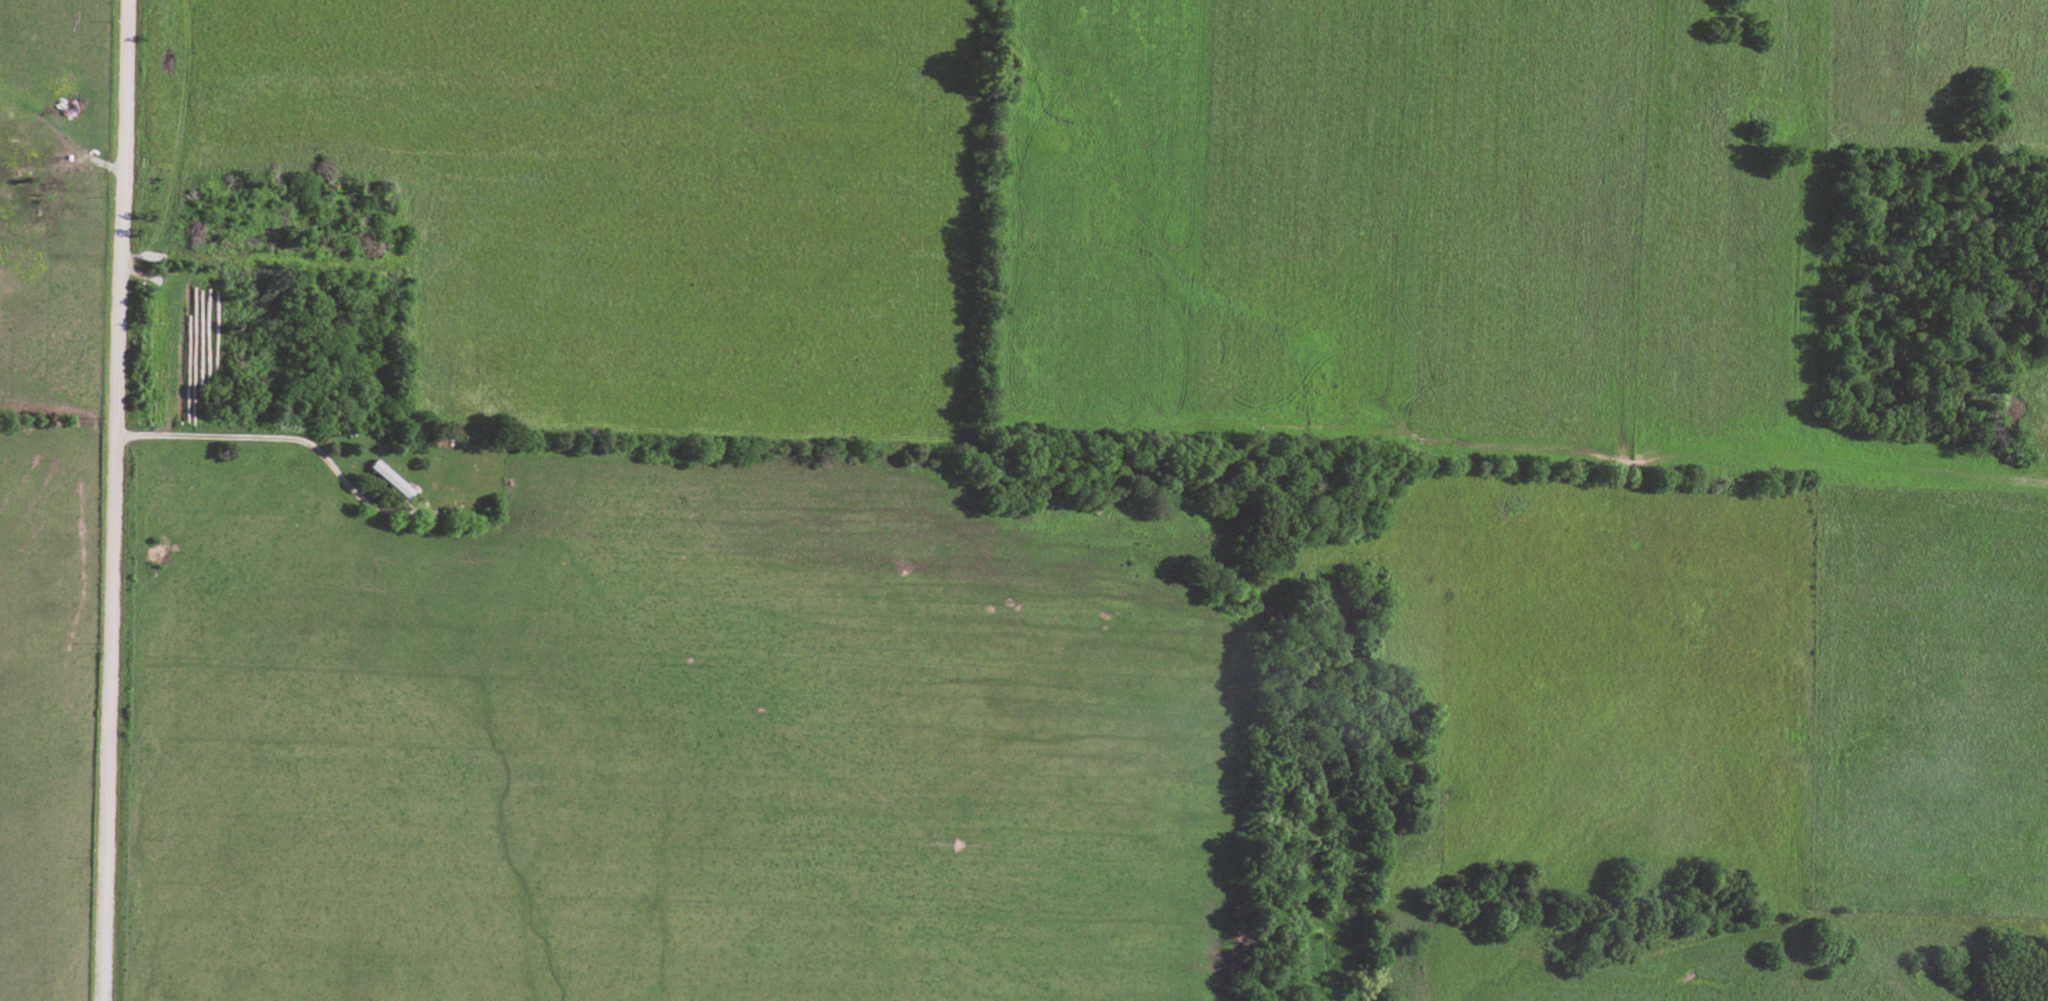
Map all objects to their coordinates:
road: (241, 435)
building: (391, 476)
road: (114, 500)

